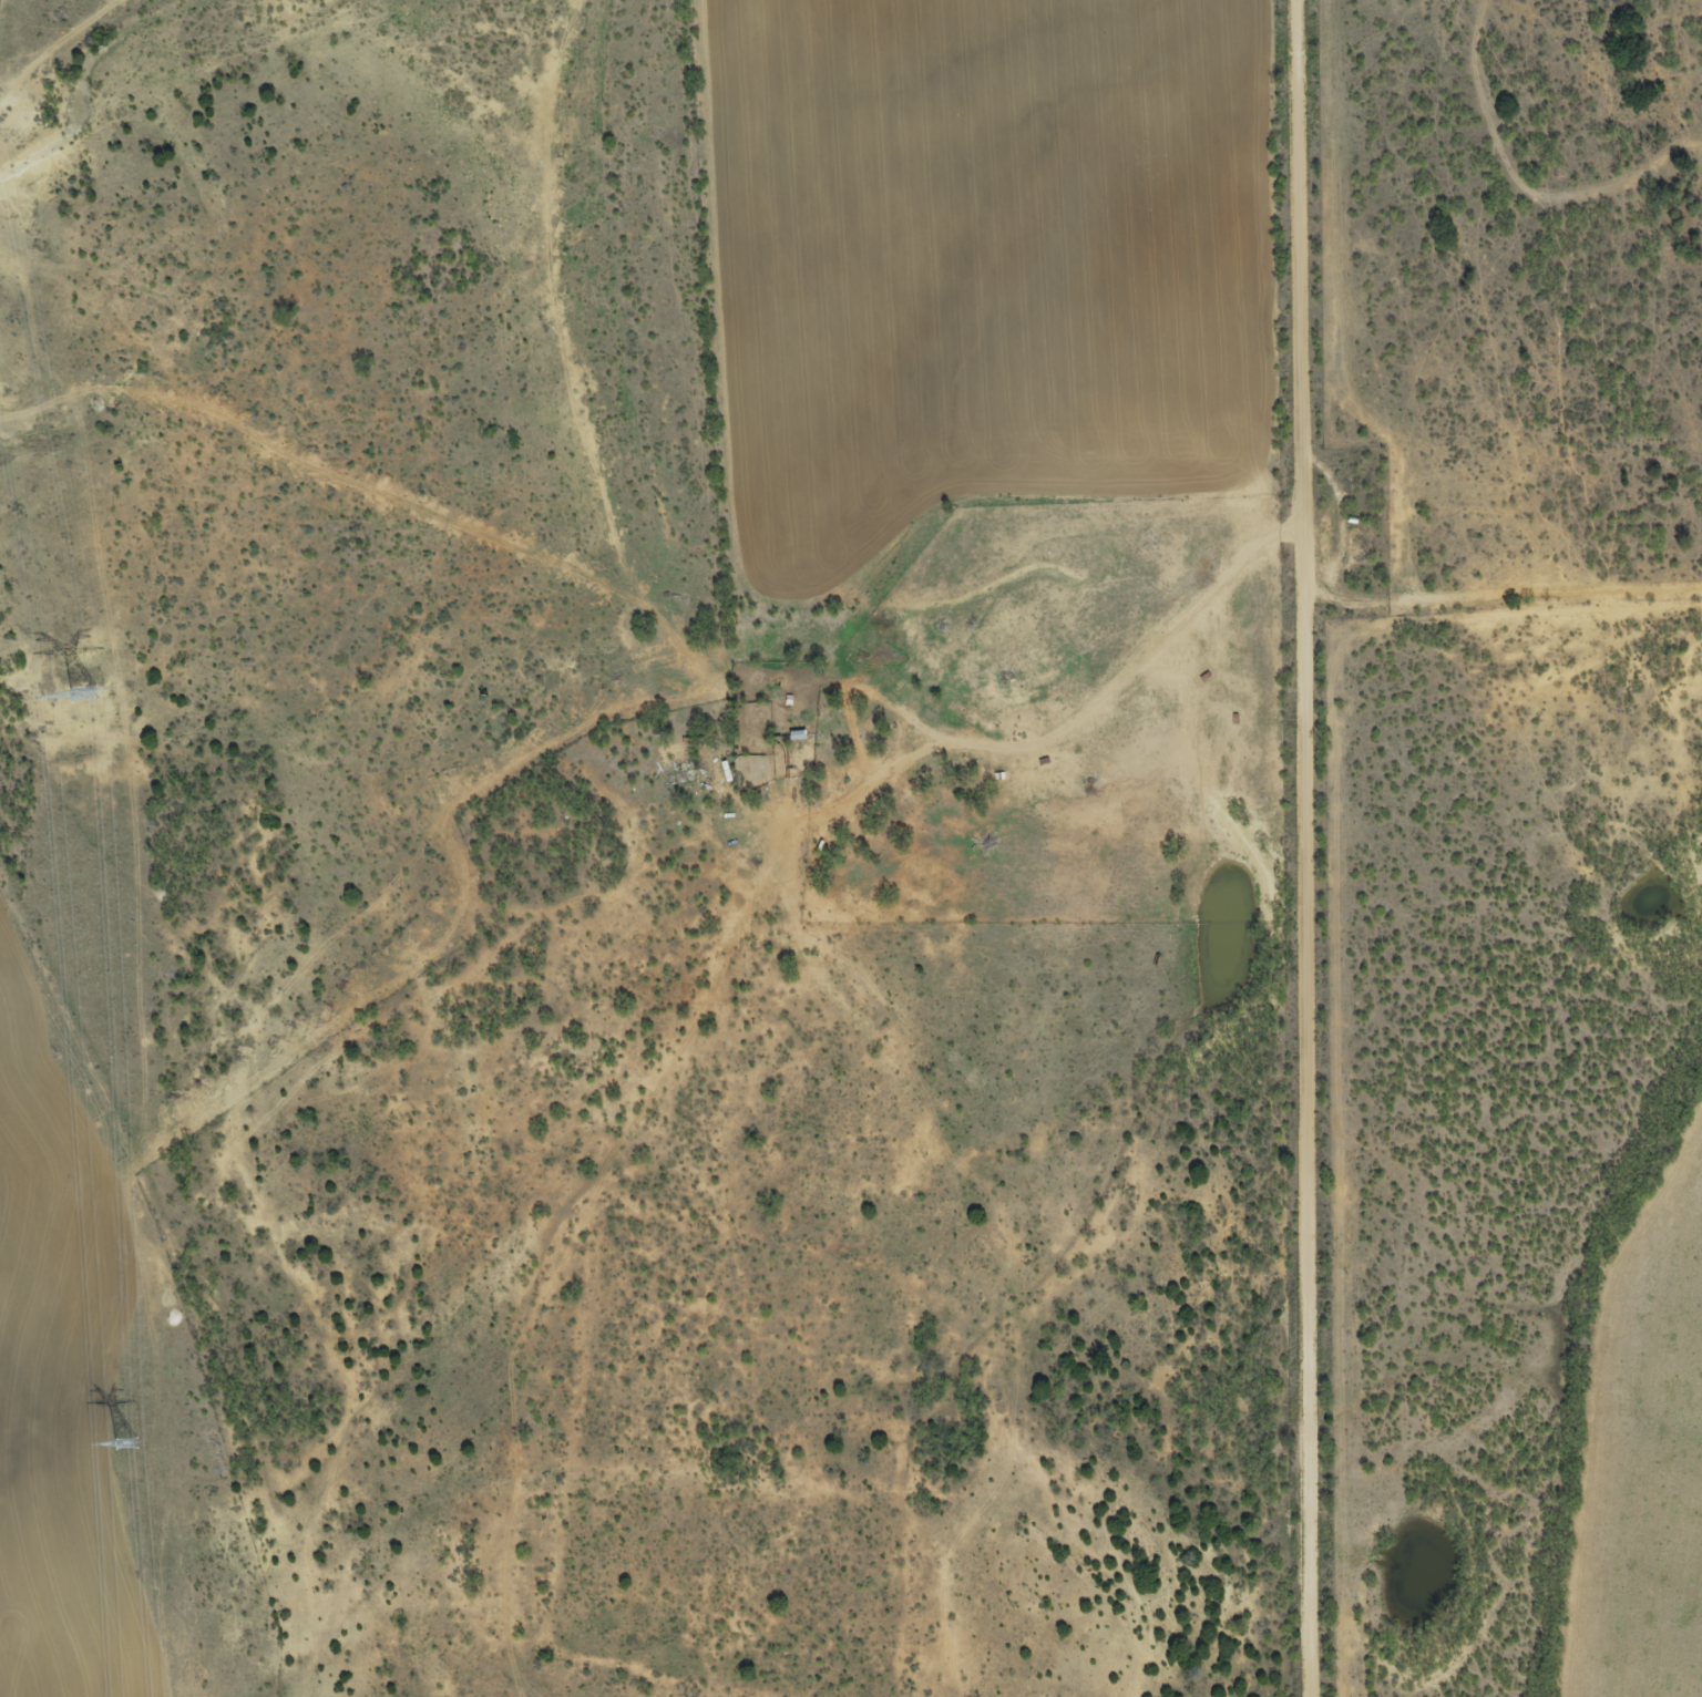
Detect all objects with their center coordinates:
road: (573, 360)
road: (1498, 593)
road: (1129, 673)
power tower: (82, 696)
road: (1302, 847)
power tower: (125, 1444)

